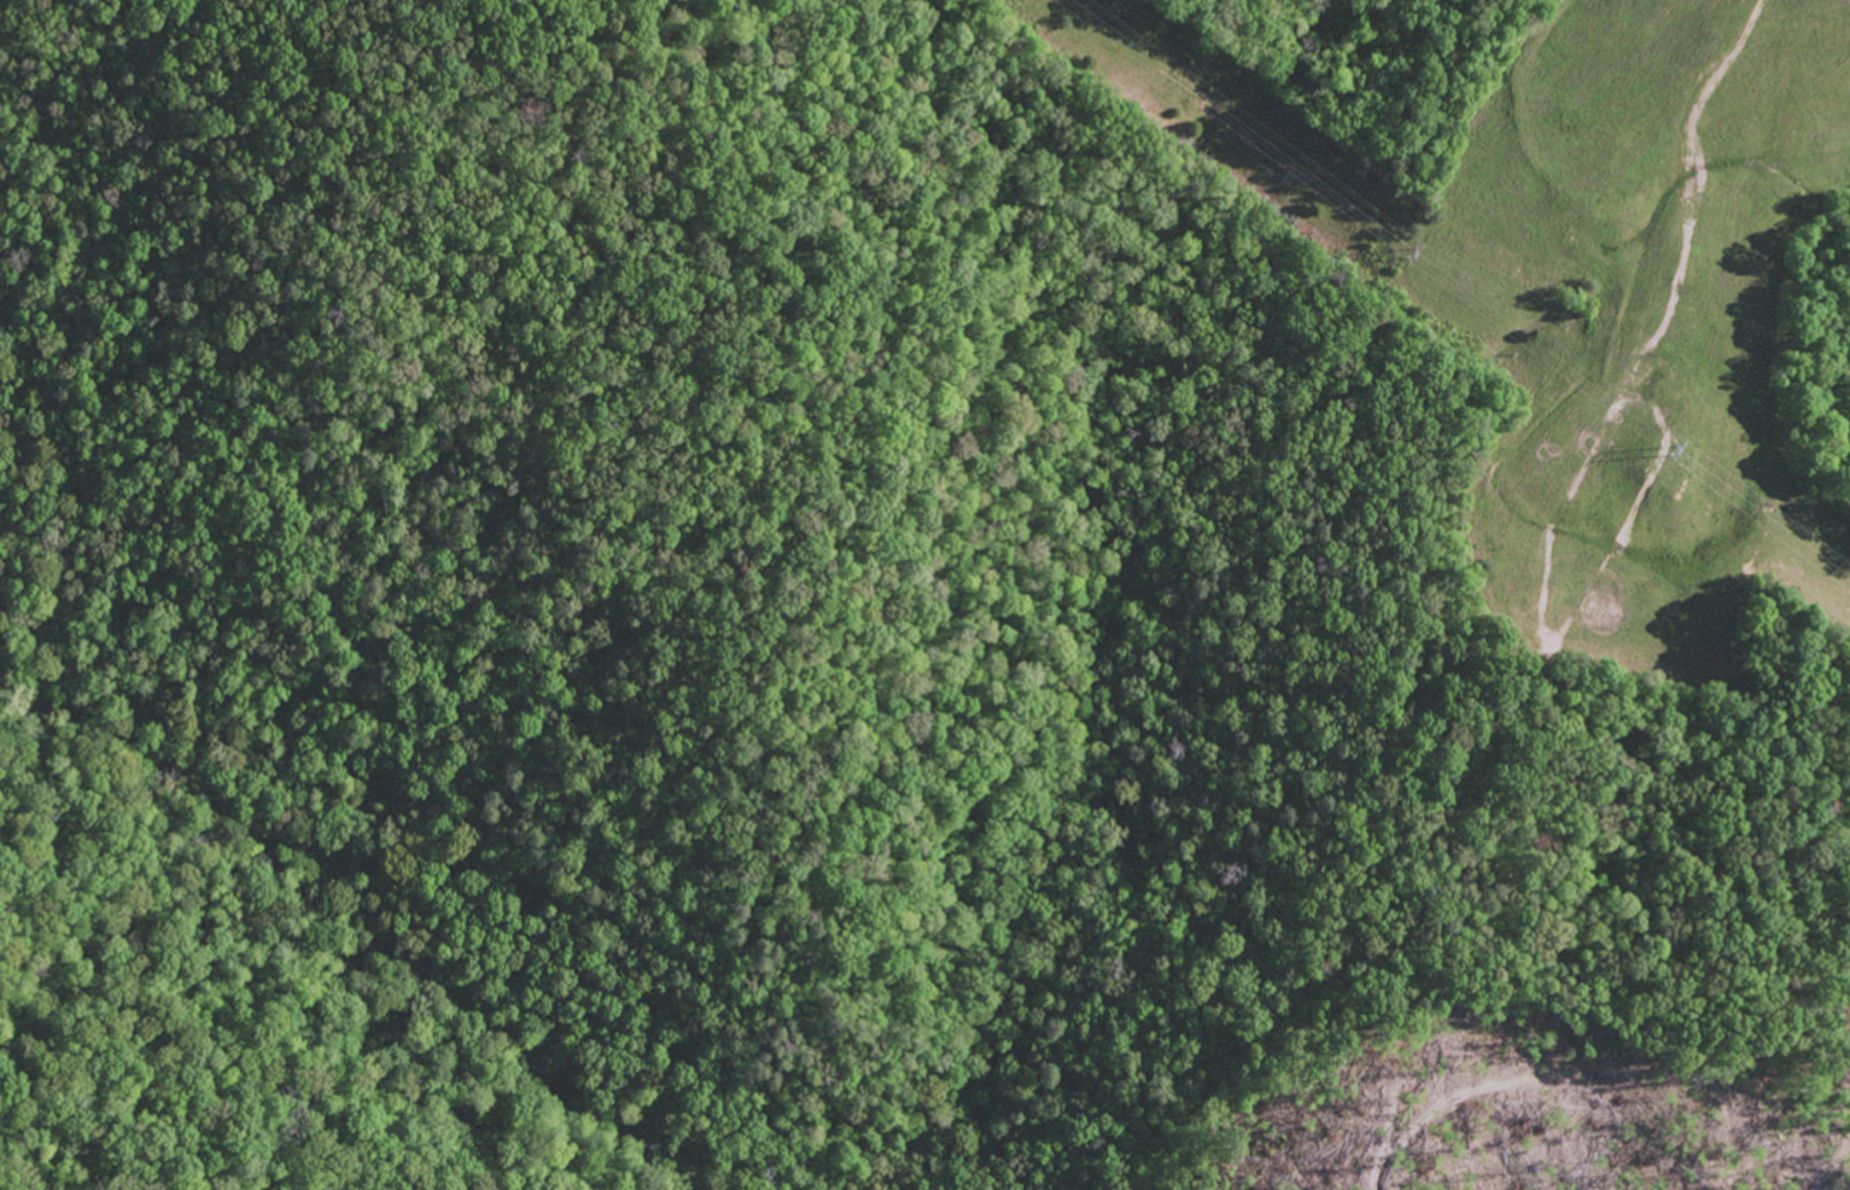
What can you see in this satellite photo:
road: (1688, 165)
power tower: (1411, 251)
power tower: (1675, 453)

